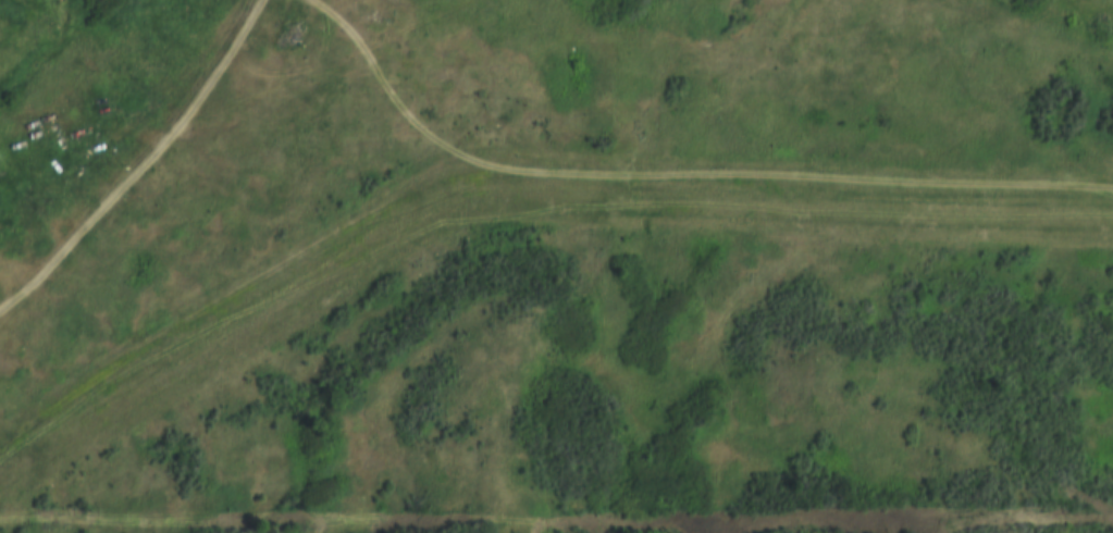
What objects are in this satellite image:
road: (134, 121)

